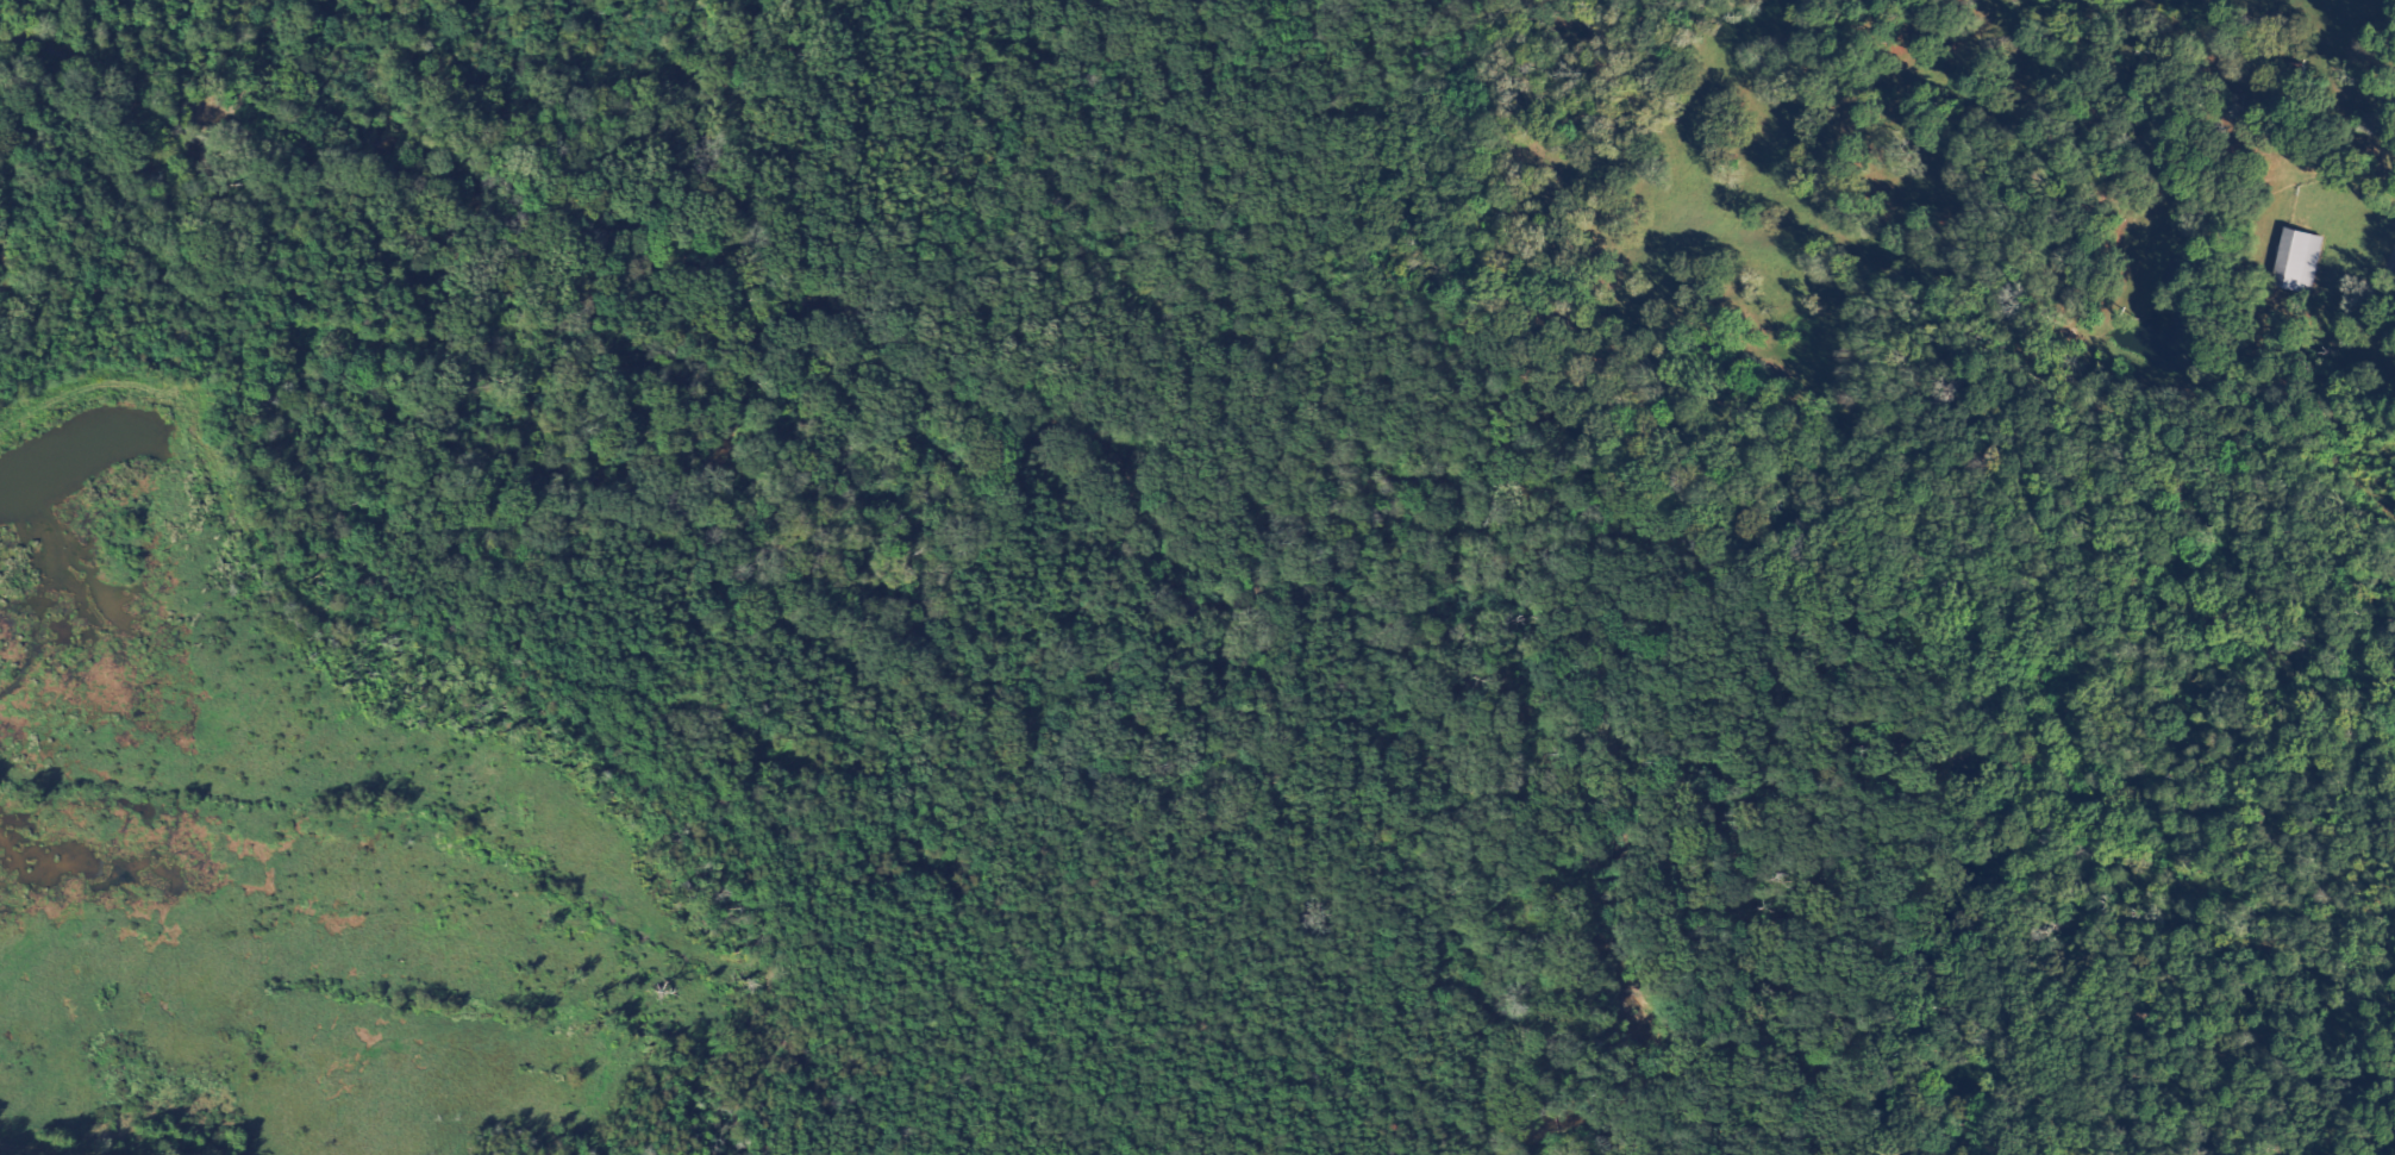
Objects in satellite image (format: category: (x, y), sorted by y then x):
building: (2308, 258)

